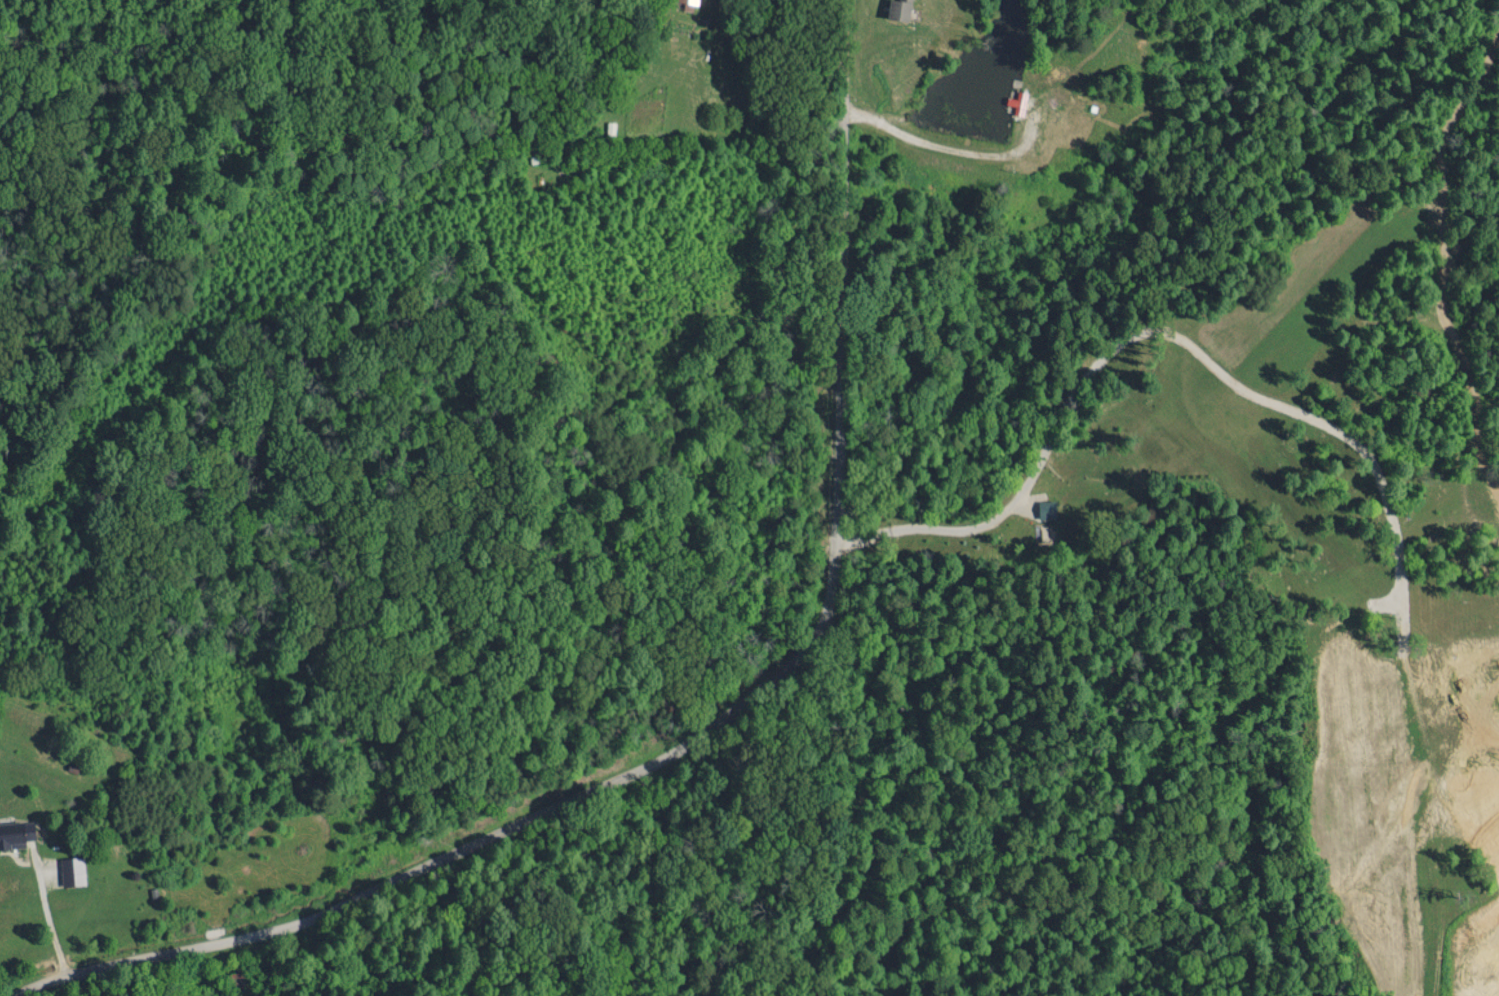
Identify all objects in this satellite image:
road: (718, 717)
building: (16, 834)
building: (72, 871)

